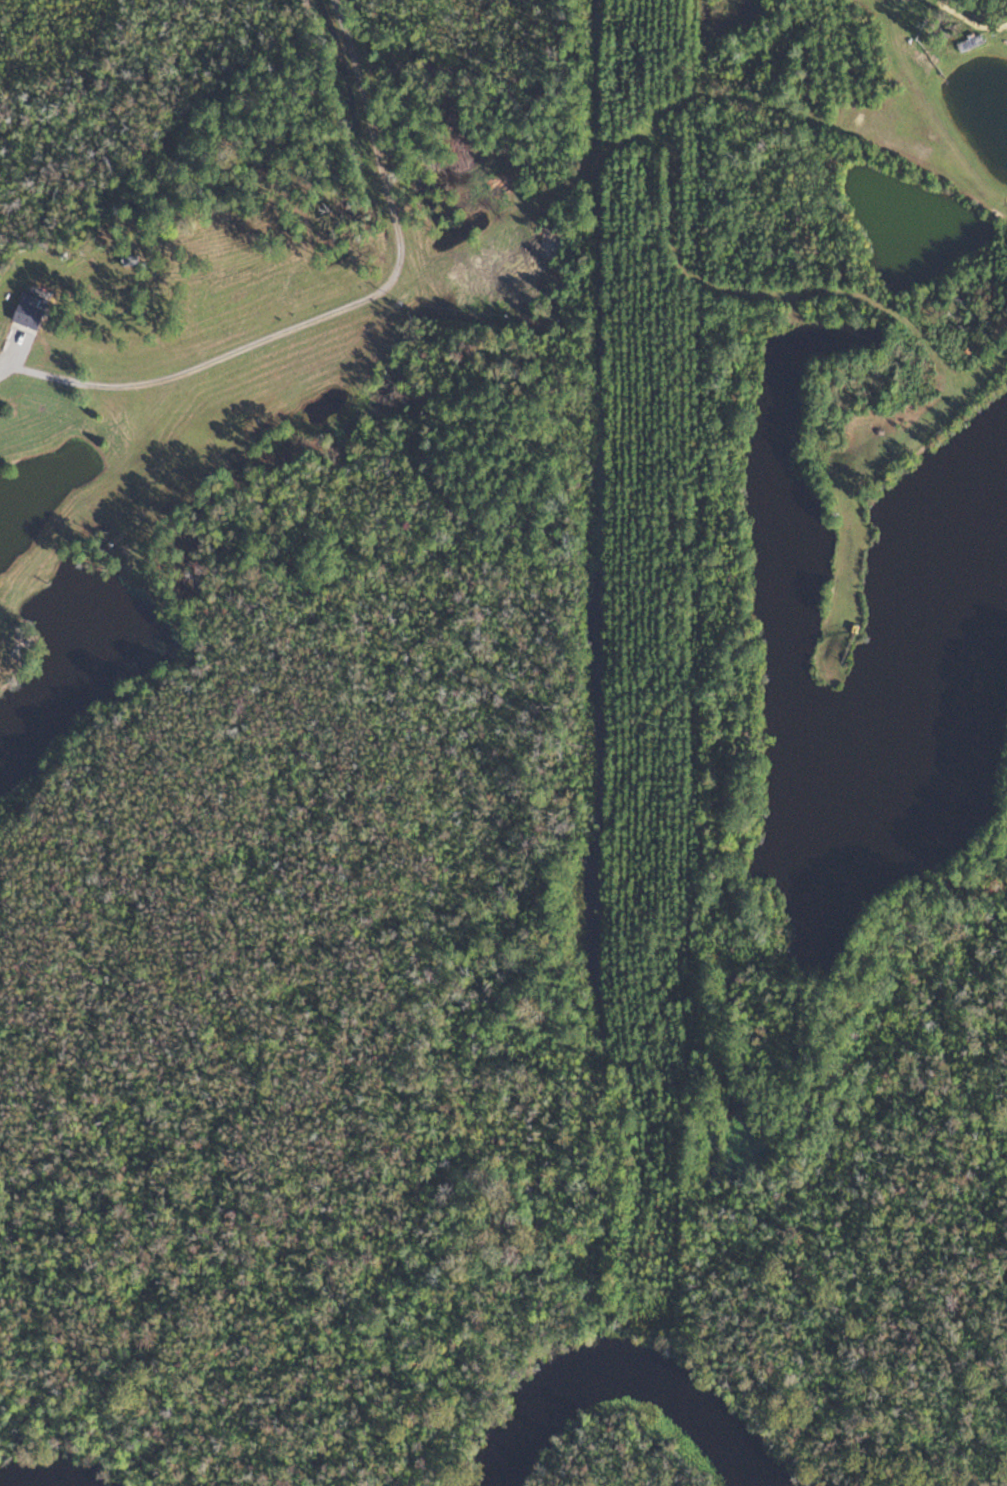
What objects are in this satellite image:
road: (360, 298)
building: (29, 313)
building: (1002, 588)

